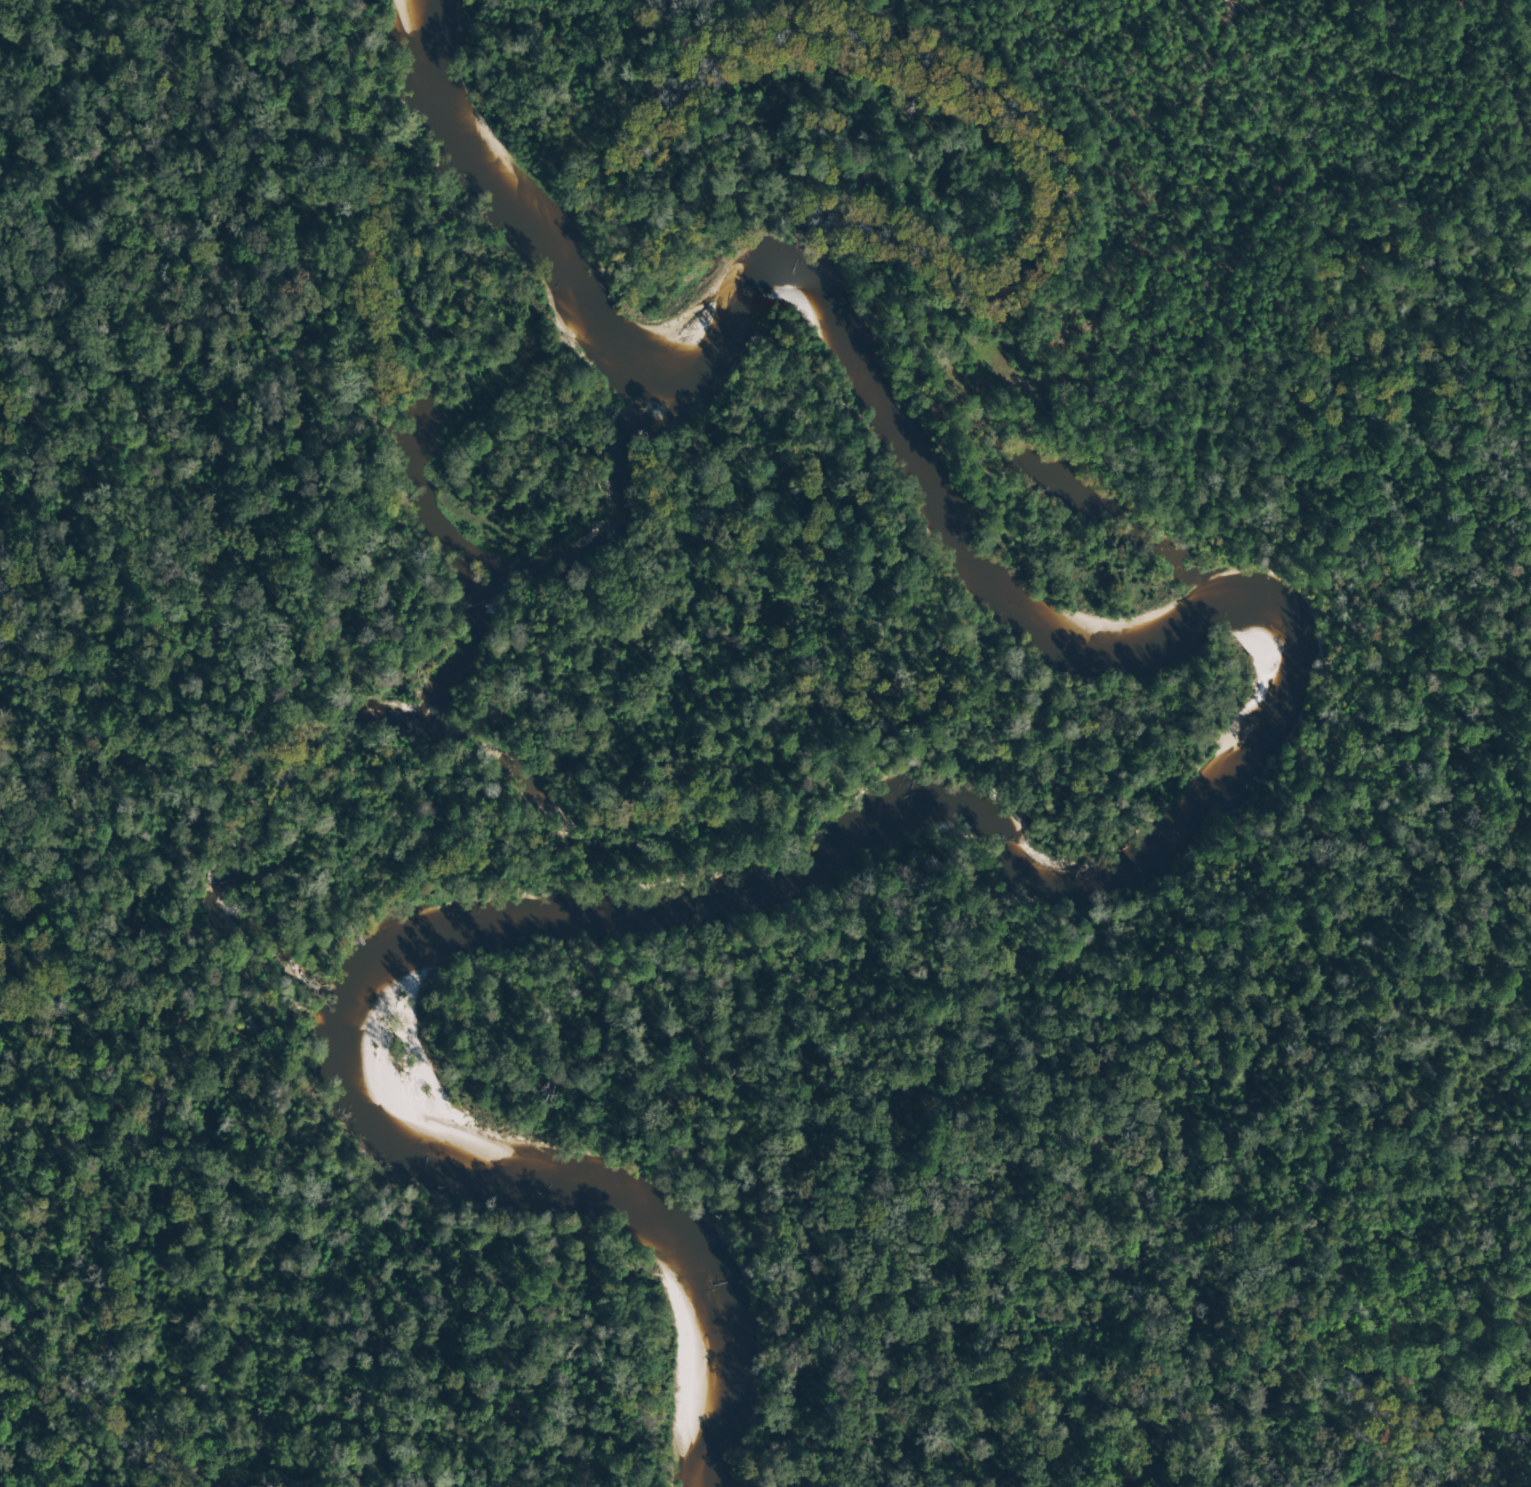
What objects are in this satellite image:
road: (1179, 162)

